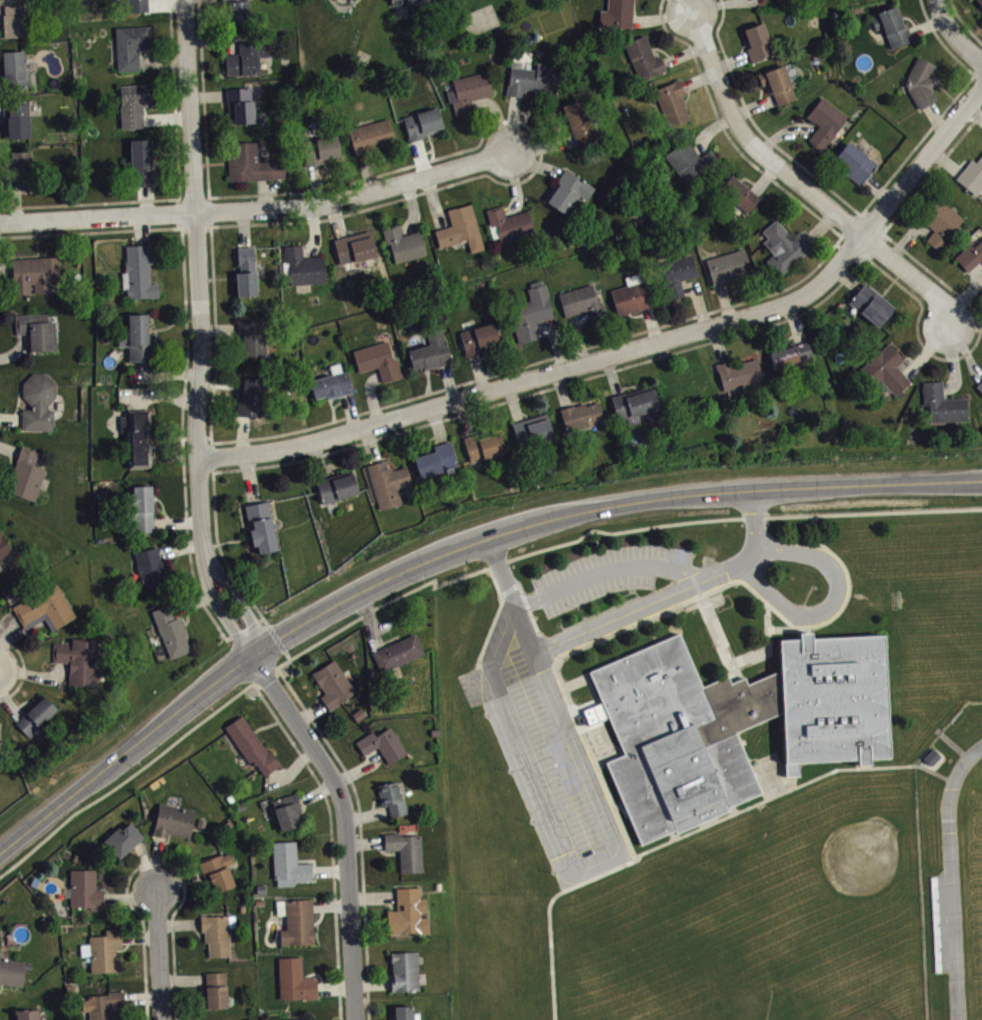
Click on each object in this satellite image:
building: (352, 0)
building: (475, 0)
building: (770, 1)
building: (339, 2)
building: (408, 2)
building: (979, 2)
building: (134, 6)
building: (237, 11)
building: (616, 14)
building: (10, 18)
road: (964, 22)
building: (891, 26)
road: (955, 34)
building: (756, 41)
building: (129, 46)
building: (245, 57)
building: (643, 57)
building: (13, 68)
building: (530, 79)
building: (919, 82)
building: (776, 83)
building: (469, 91)
building: (671, 101)
building: (137, 102)
building: (238, 105)
building: (21, 116)
building: (580, 122)
building: (823, 122)
building: (421, 123)
building: (370, 136)
building: (318, 149)
building: (689, 160)
building: (141, 161)
building: (852, 162)
building: (250, 163)
building: (19, 169)
building: (971, 176)
road: (179, 188)
road: (804, 189)
building: (566, 191)
building: (736, 193)
road: (259, 212)
road: (860, 212)
building: (507, 223)
building: (939, 223)
building: (460, 228)
building: (402, 242)
building: (783, 247)
building: (352, 248)
building: (970, 255)
building: (302, 265)
building: (727, 266)
building: (137, 272)
building: (245, 272)
building: (33, 273)
building: (676, 275)
building: (632, 294)
building: (582, 302)
building: (870, 304)
building: (529, 312)
building: (36, 330)
road: (203, 333)
road: (728, 336)
building: (251, 337)
building: (477, 337)
building: (135, 338)
road: (186, 349)
building: (429, 351)
road: (635, 352)
building: (791, 355)
building: (377, 360)
road: (216, 362)
building: (885, 371)
building: (737, 373)
building: (331, 383)
building: (685, 384)
building: (979, 386)
building: (980, 393)
building: (250, 396)
building: (37, 402)
building: (633, 403)
building: (941, 403)
building: (580, 415)
building: (532, 430)
building: (137, 437)
building: (483, 444)
building: (436, 459)
building: (25, 475)
building: (387, 482)
building: (335, 486)
building: (138, 507)
building: (260, 527)
road: (755, 532)
building: (4, 546)
road: (447, 555)
building: (0, 567)
parking lot: (608, 569)
building: (151, 571)
road: (719, 575)
road: (605, 577)
road: (833, 599)
road: (255, 605)
building: (43, 607)
road: (524, 627)
building: (170, 631)
building: (78, 659)
building: (400, 659)
road: (22, 668)
building: (336, 691)
building: (34, 715)
building: (732, 722)
building: (1, 745)
building: (253, 751)
building: (385, 751)
parking lot: (550, 762)
building: (395, 805)
building: (290, 818)
road: (350, 824)
building: (176, 828)
road: (690, 834)
building: (125, 846)
road: (613, 856)
building: (409, 857)
building: (291, 872)
building: (220, 879)
track: (954, 879)
park: (847, 887)
building: (87, 897)
building: (411, 919)
building: (299, 928)
building: (220, 942)
road: (159, 957)
building: (107, 958)
building: (12, 978)
building: (407, 978)
park: (627, 983)
building: (297, 987)
park: (837, 993)
building: (218, 997)
building: (104, 1009)
building: (405, 1016)
building: (30, 1018)

